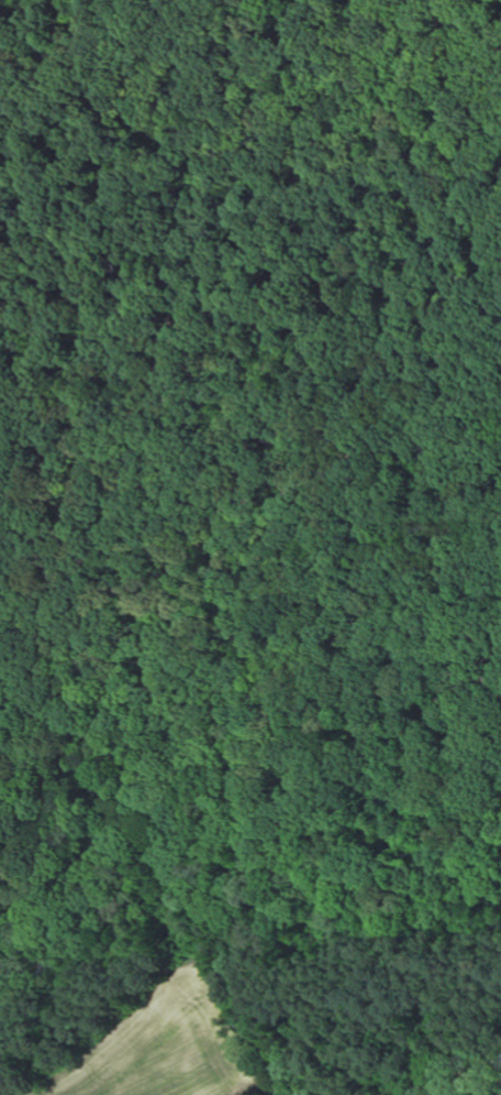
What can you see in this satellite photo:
road: (483, 632)

